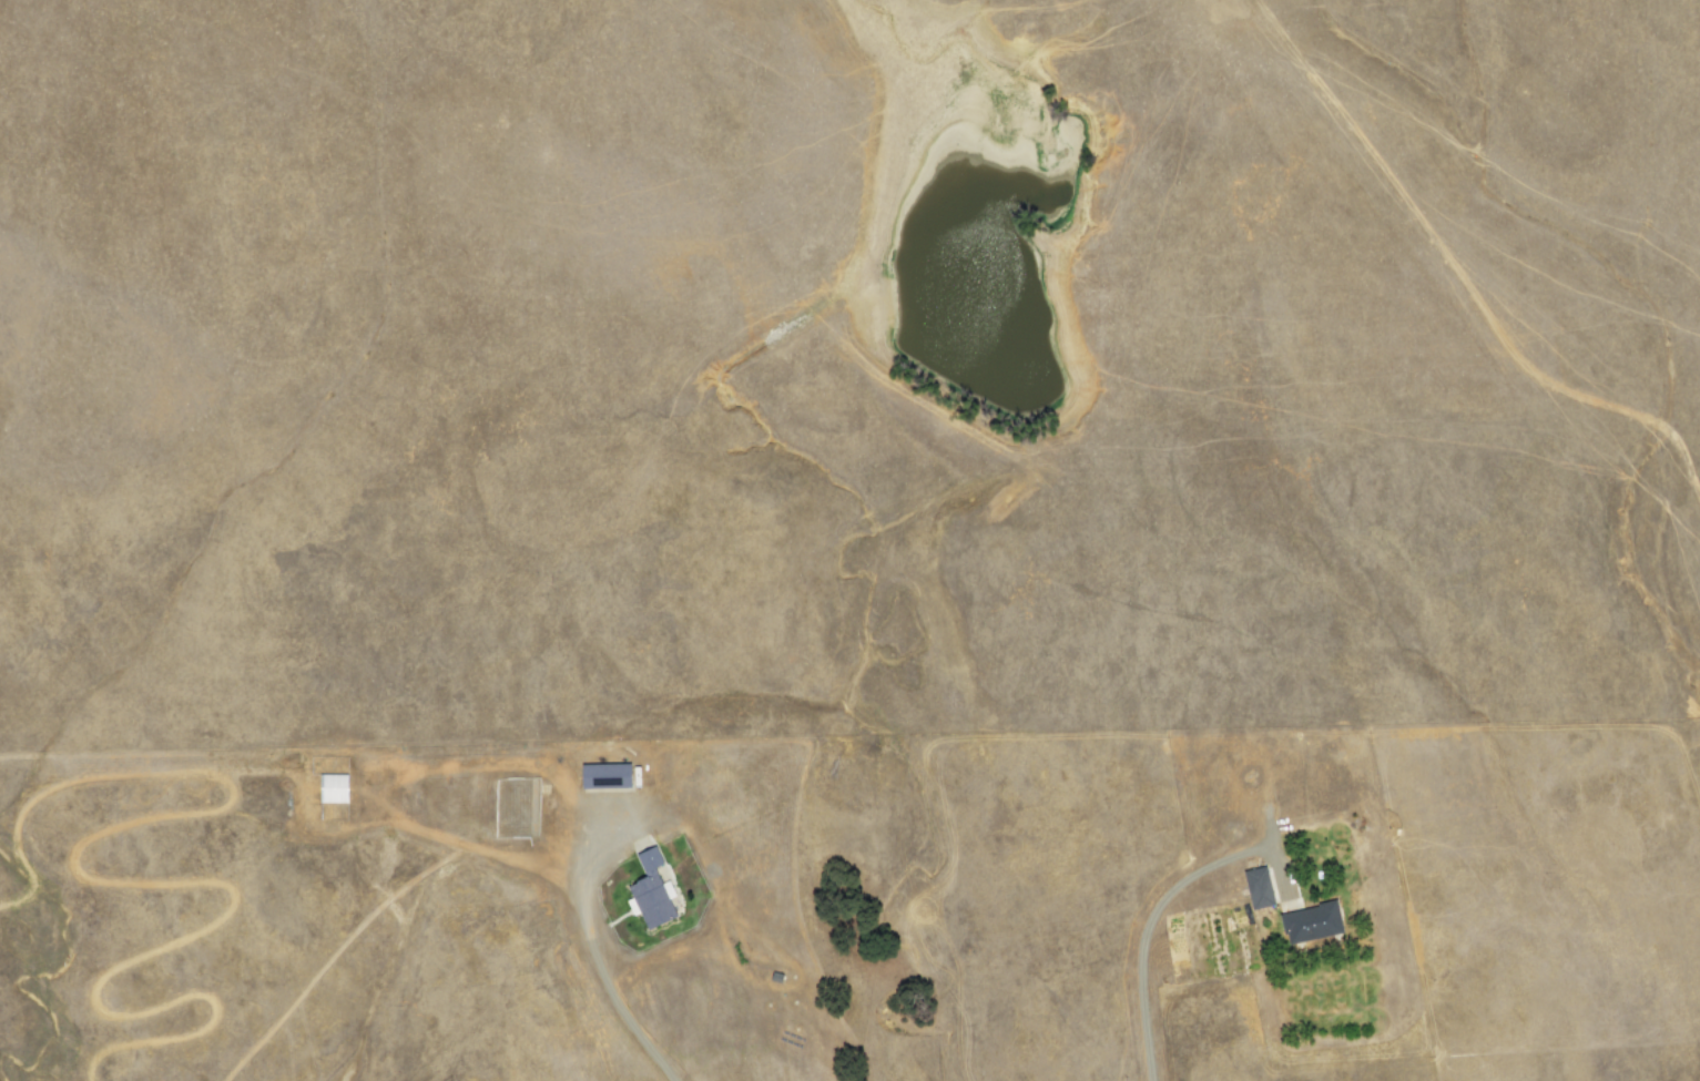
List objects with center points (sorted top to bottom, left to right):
dam: (920, 394)
road: (1578, 461)
building: (599, 776)
building: (328, 788)
building: (645, 886)
building: (1253, 888)
road: (1152, 909)
building: (1306, 922)
road: (591, 958)

